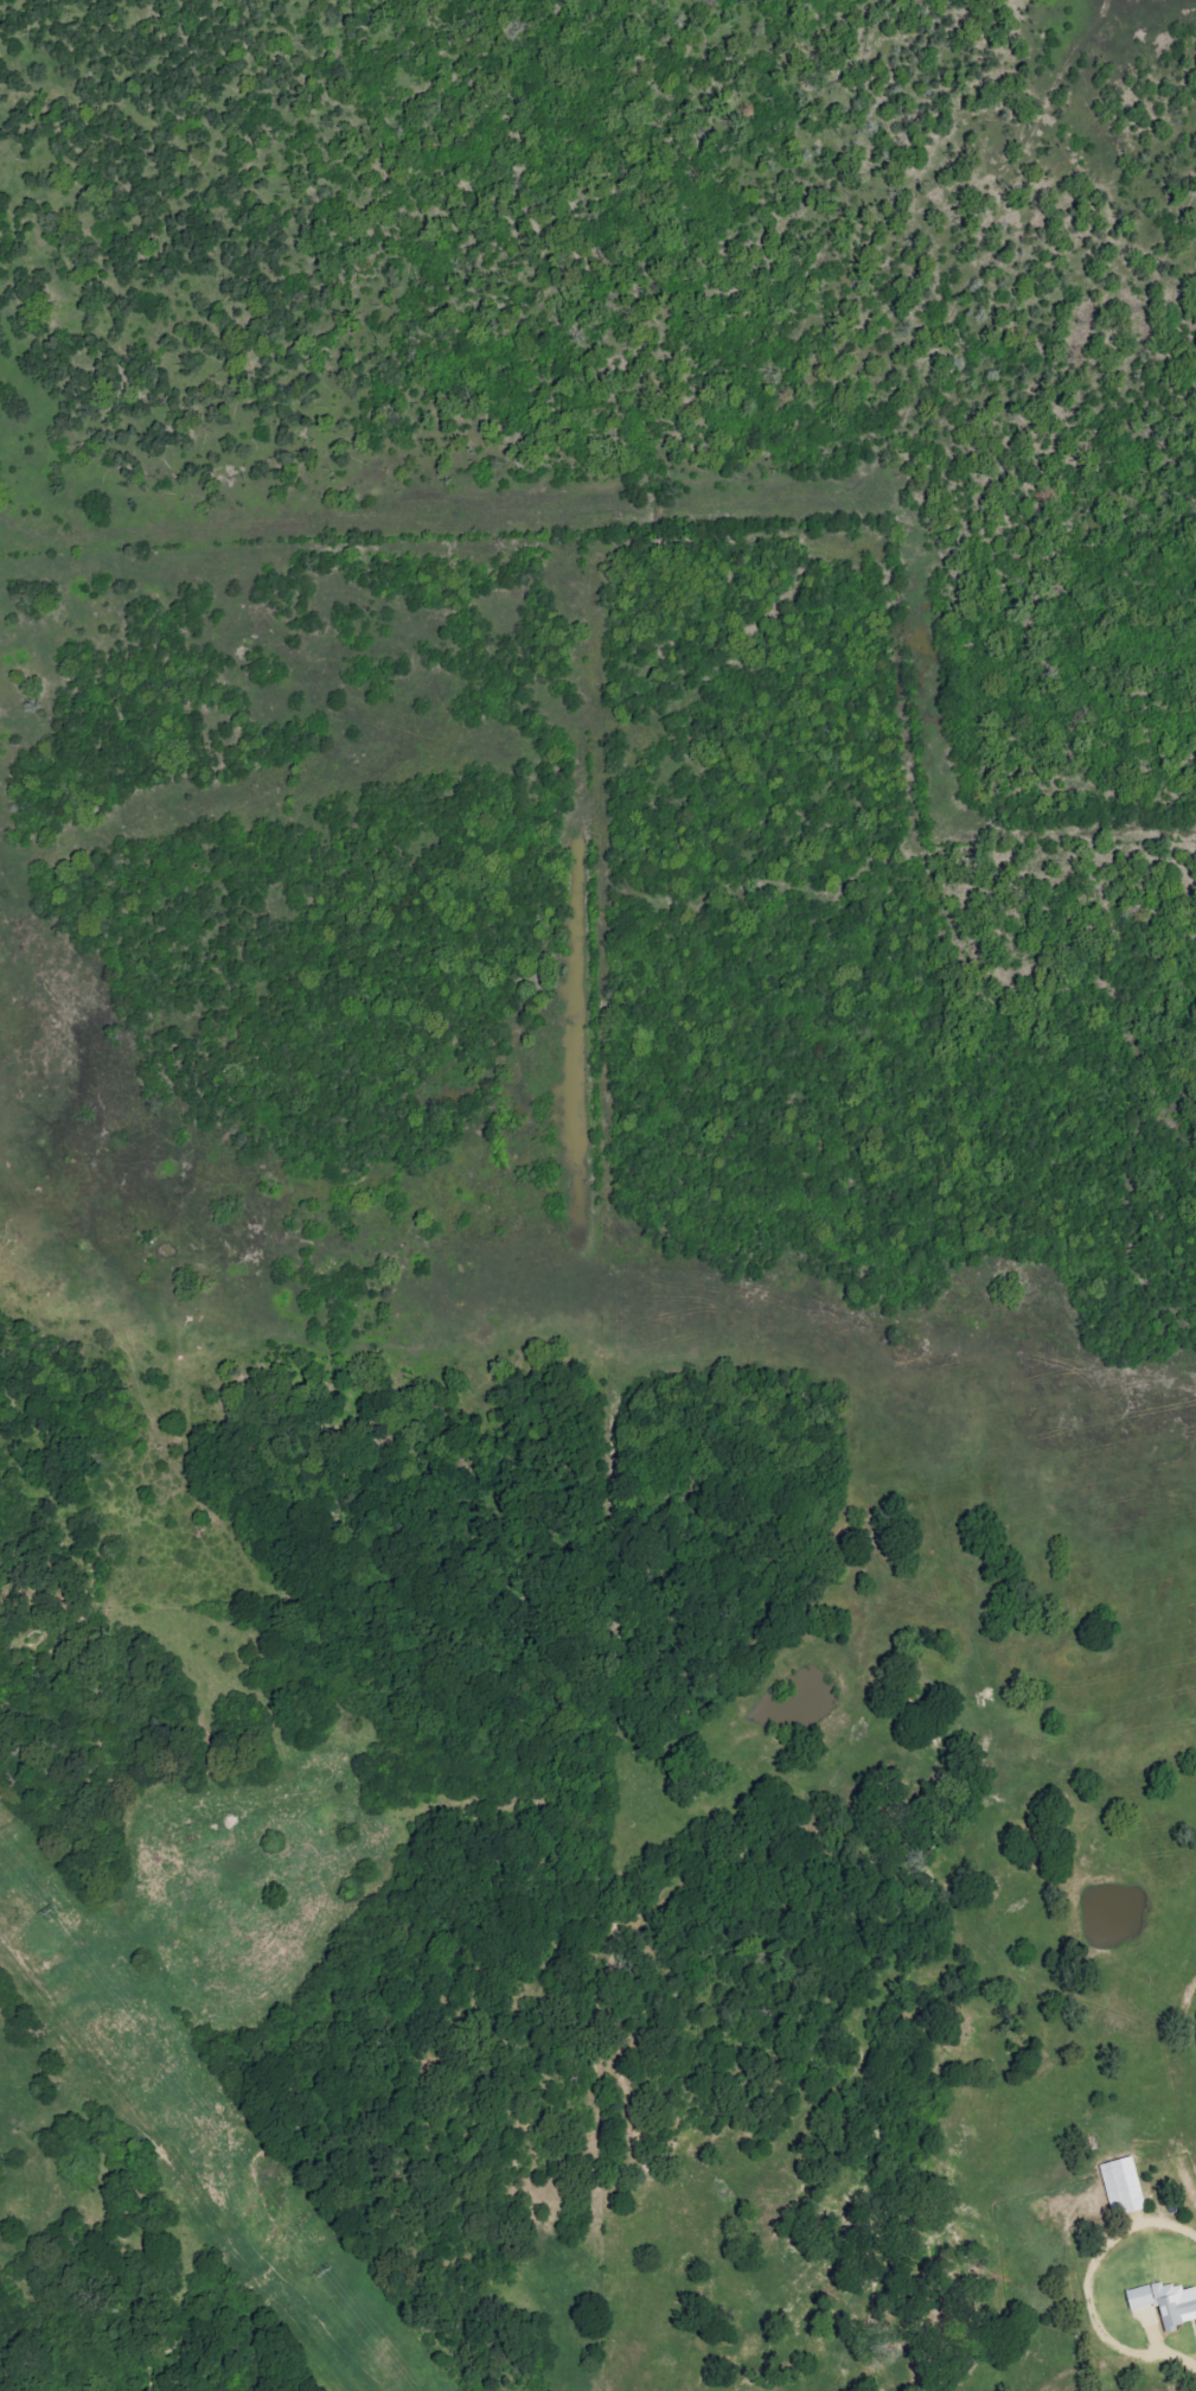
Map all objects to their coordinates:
power tower: (49, 1915)
building: (1124, 2187)
power tower: (324, 2276)
building: (1168, 2303)

